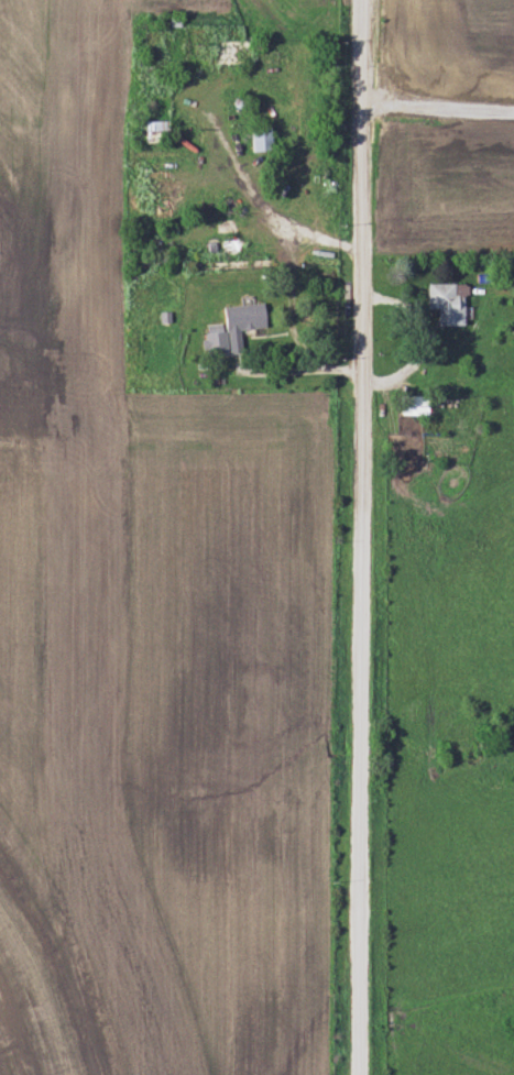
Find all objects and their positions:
building: (153, 127)
building: (254, 139)
building: (441, 303)
building: (228, 328)
building: (409, 405)
road: (356, 537)

